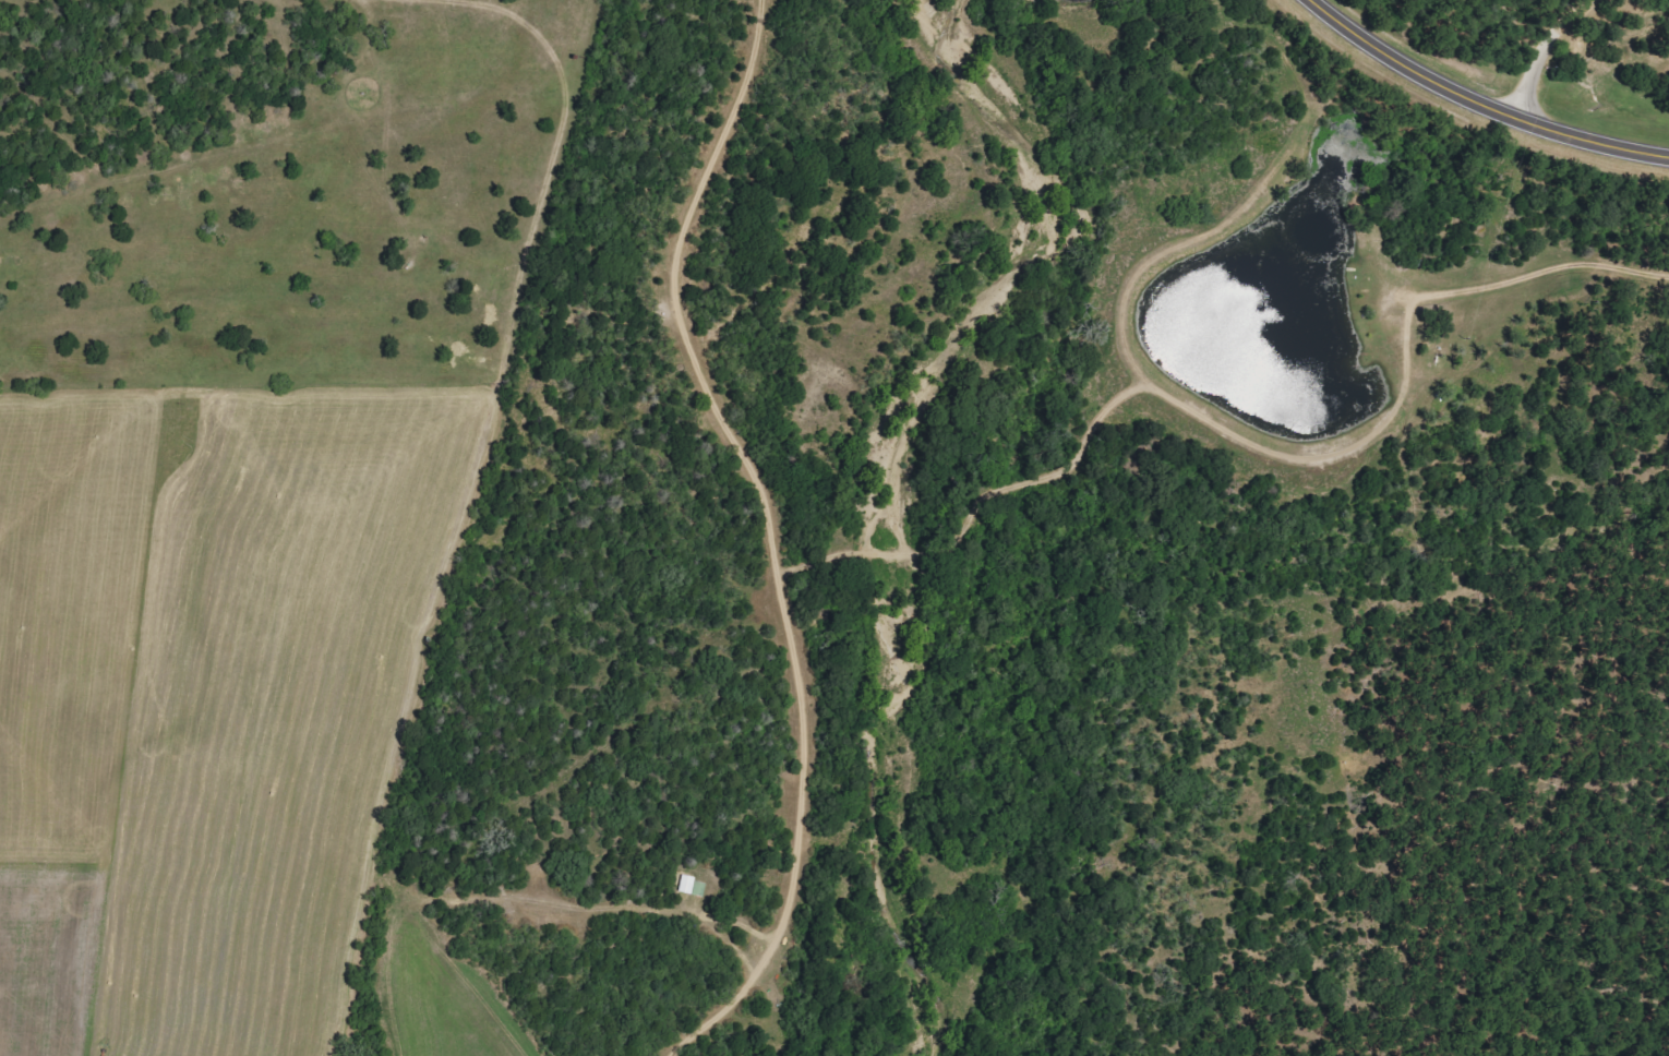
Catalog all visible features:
road: (1539, 50)
road: (1481, 97)

